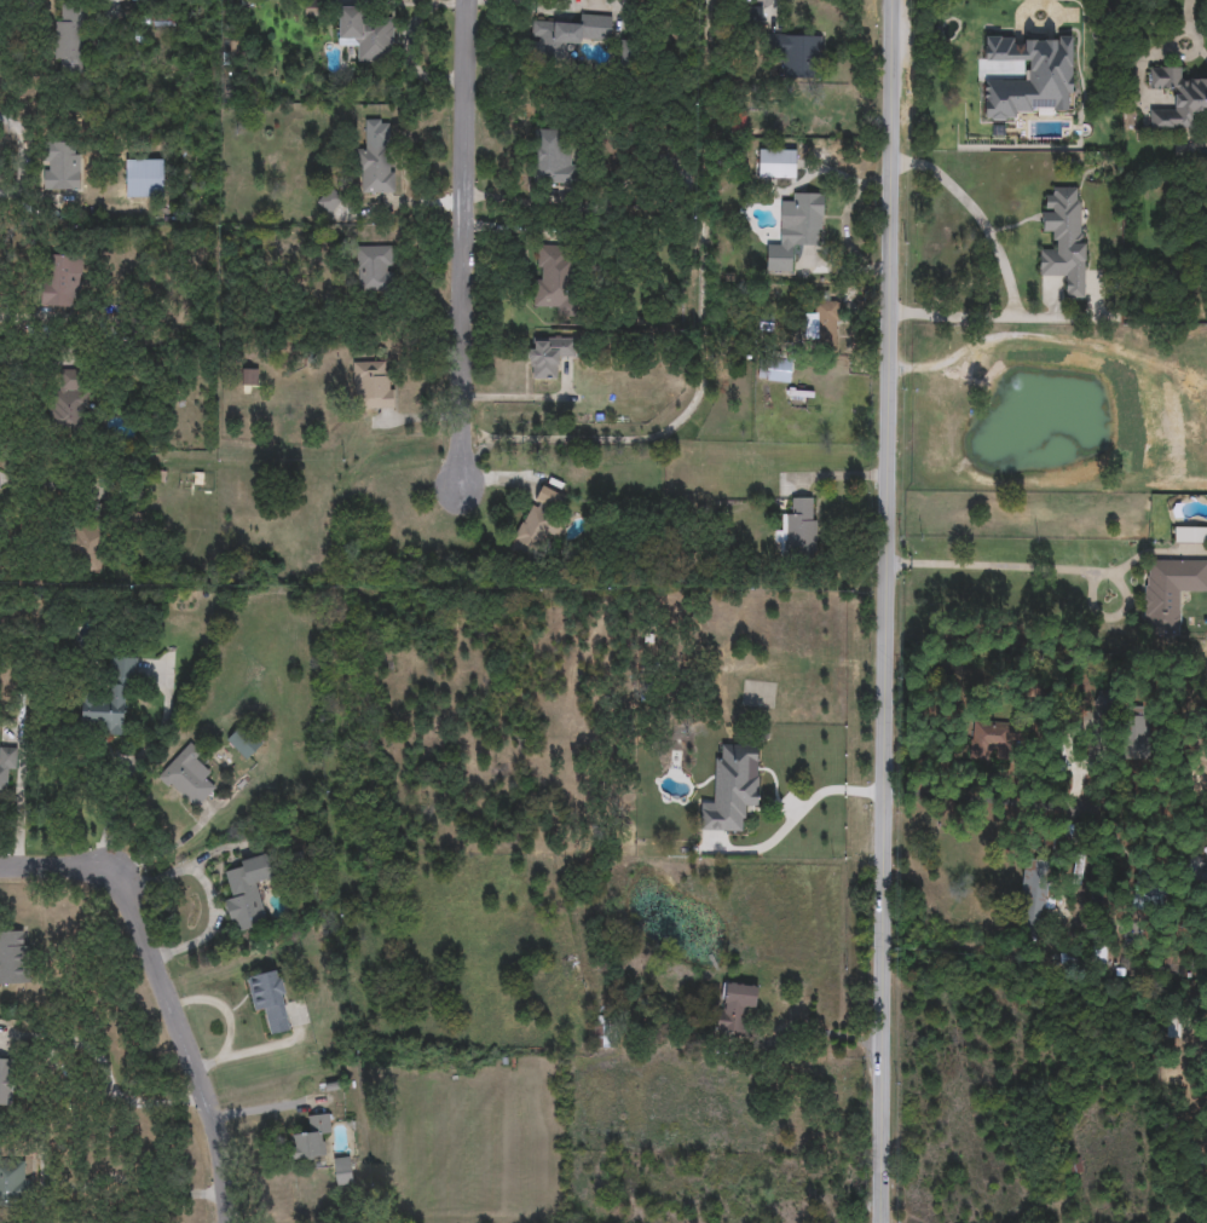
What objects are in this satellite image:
building: (364, 34)
building: (567, 35)
building: (69, 39)
building: (797, 56)
building: (1177, 99)
building: (550, 156)
building: (776, 165)
building: (60, 166)
building: (376, 167)
building: (146, 179)
building: (329, 201)
building: (803, 223)
road: (469, 242)
building: (1064, 242)
road: (1013, 267)
building: (375, 270)
building: (556, 279)
building: (60, 281)
building: (824, 325)
building: (547, 356)
building: (778, 371)
building: (374, 386)
building: (64, 399)
building: (548, 495)
building: (798, 529)
building: (1190, 535)
building: (533, 536)
building: (83, 548)
road: (995, 567)
building: (1168, 593)
road: (893, 611)
building: (111, 698)
building: (1105, 698)
building: (993, 742)
building: (244, 743)
building: (6, 765)
building: (187, 778)
road: (125, 788)
road: (998, 804)
road: (799, 812)
building: (247, 894)
building: (1033, 899)
building: (12, 958)
road: (166, 991)
building: (270, 999)
building: (735, 1006)
building: (1171, 1026)
building: (6, 1081)
road: (68, 1091)
building: (310, 1138)
building: (342, 1171)
building: (12, 1181)
road: (138, 1187)

